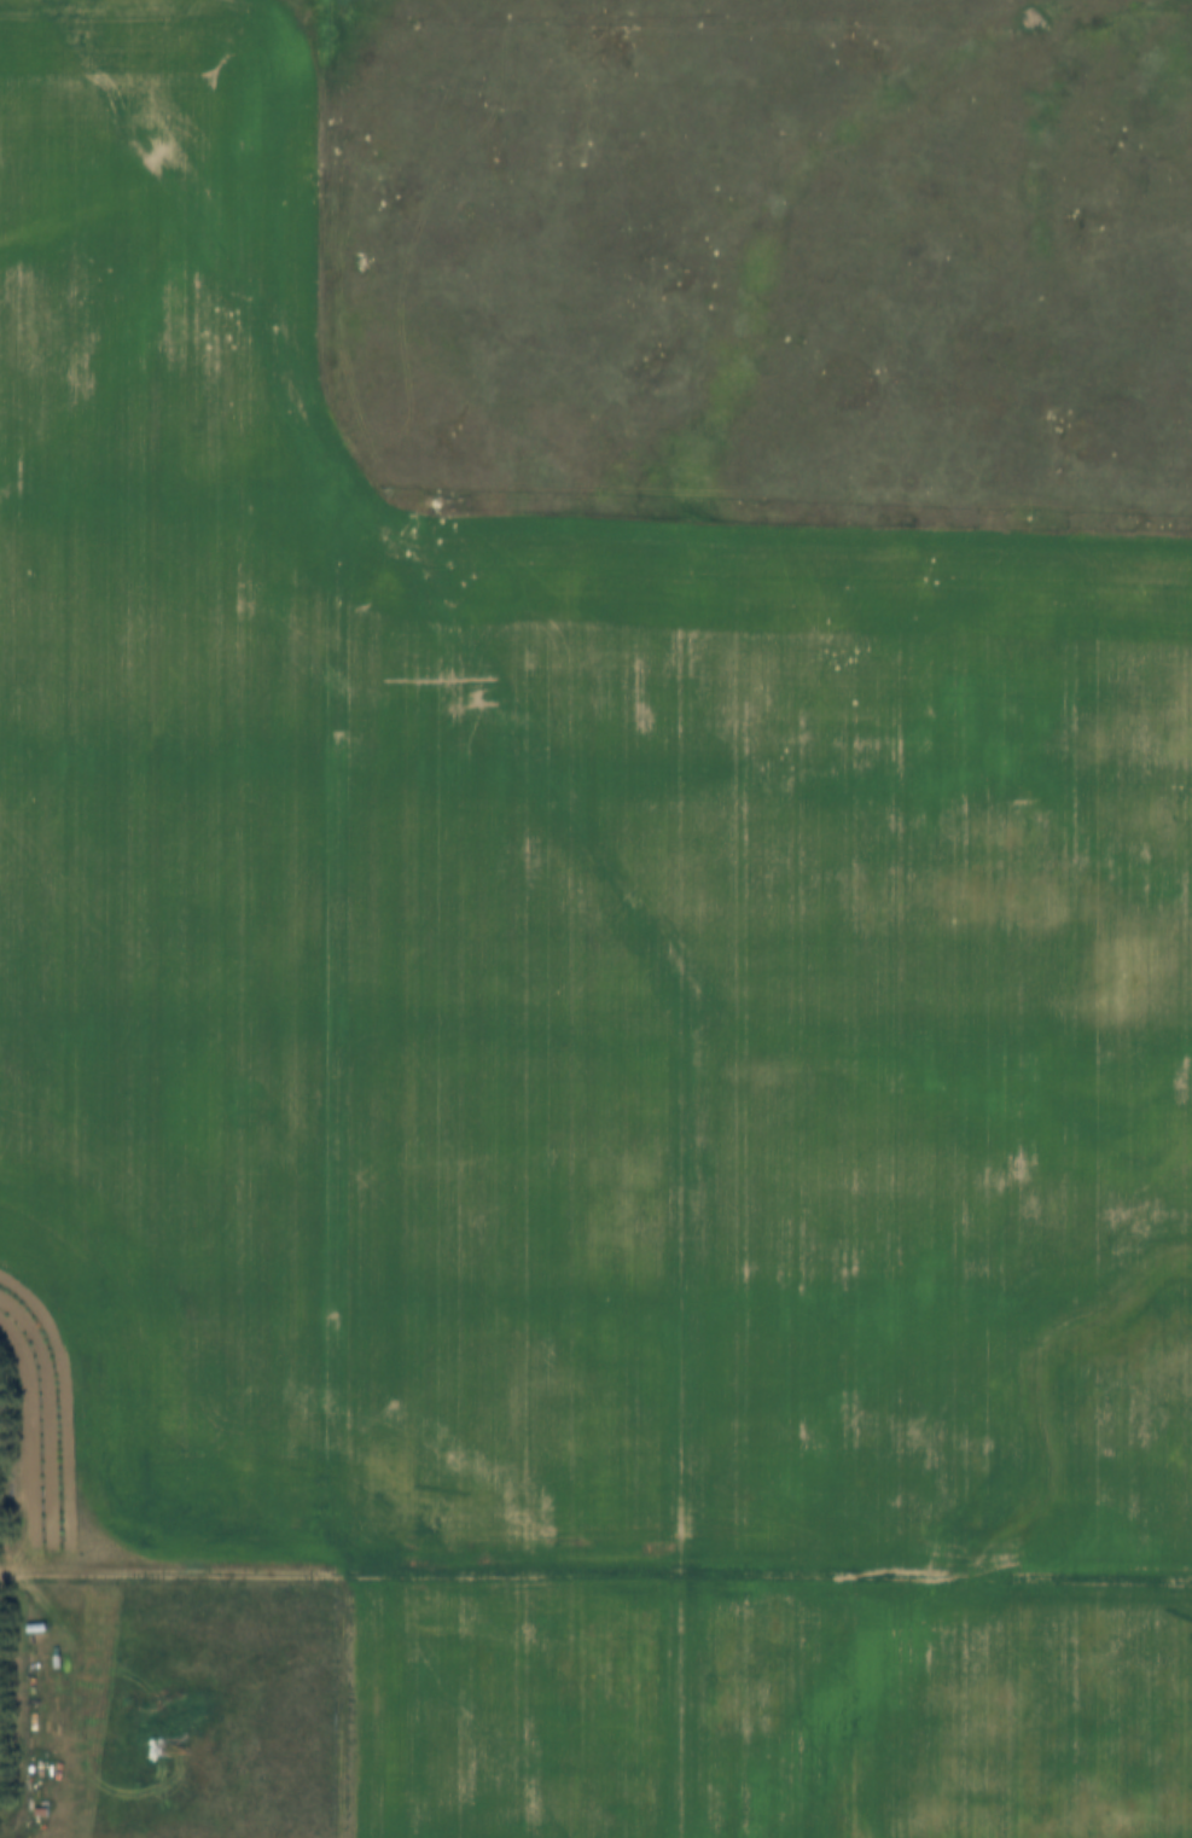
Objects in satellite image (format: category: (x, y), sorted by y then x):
road: (595, 1577)

